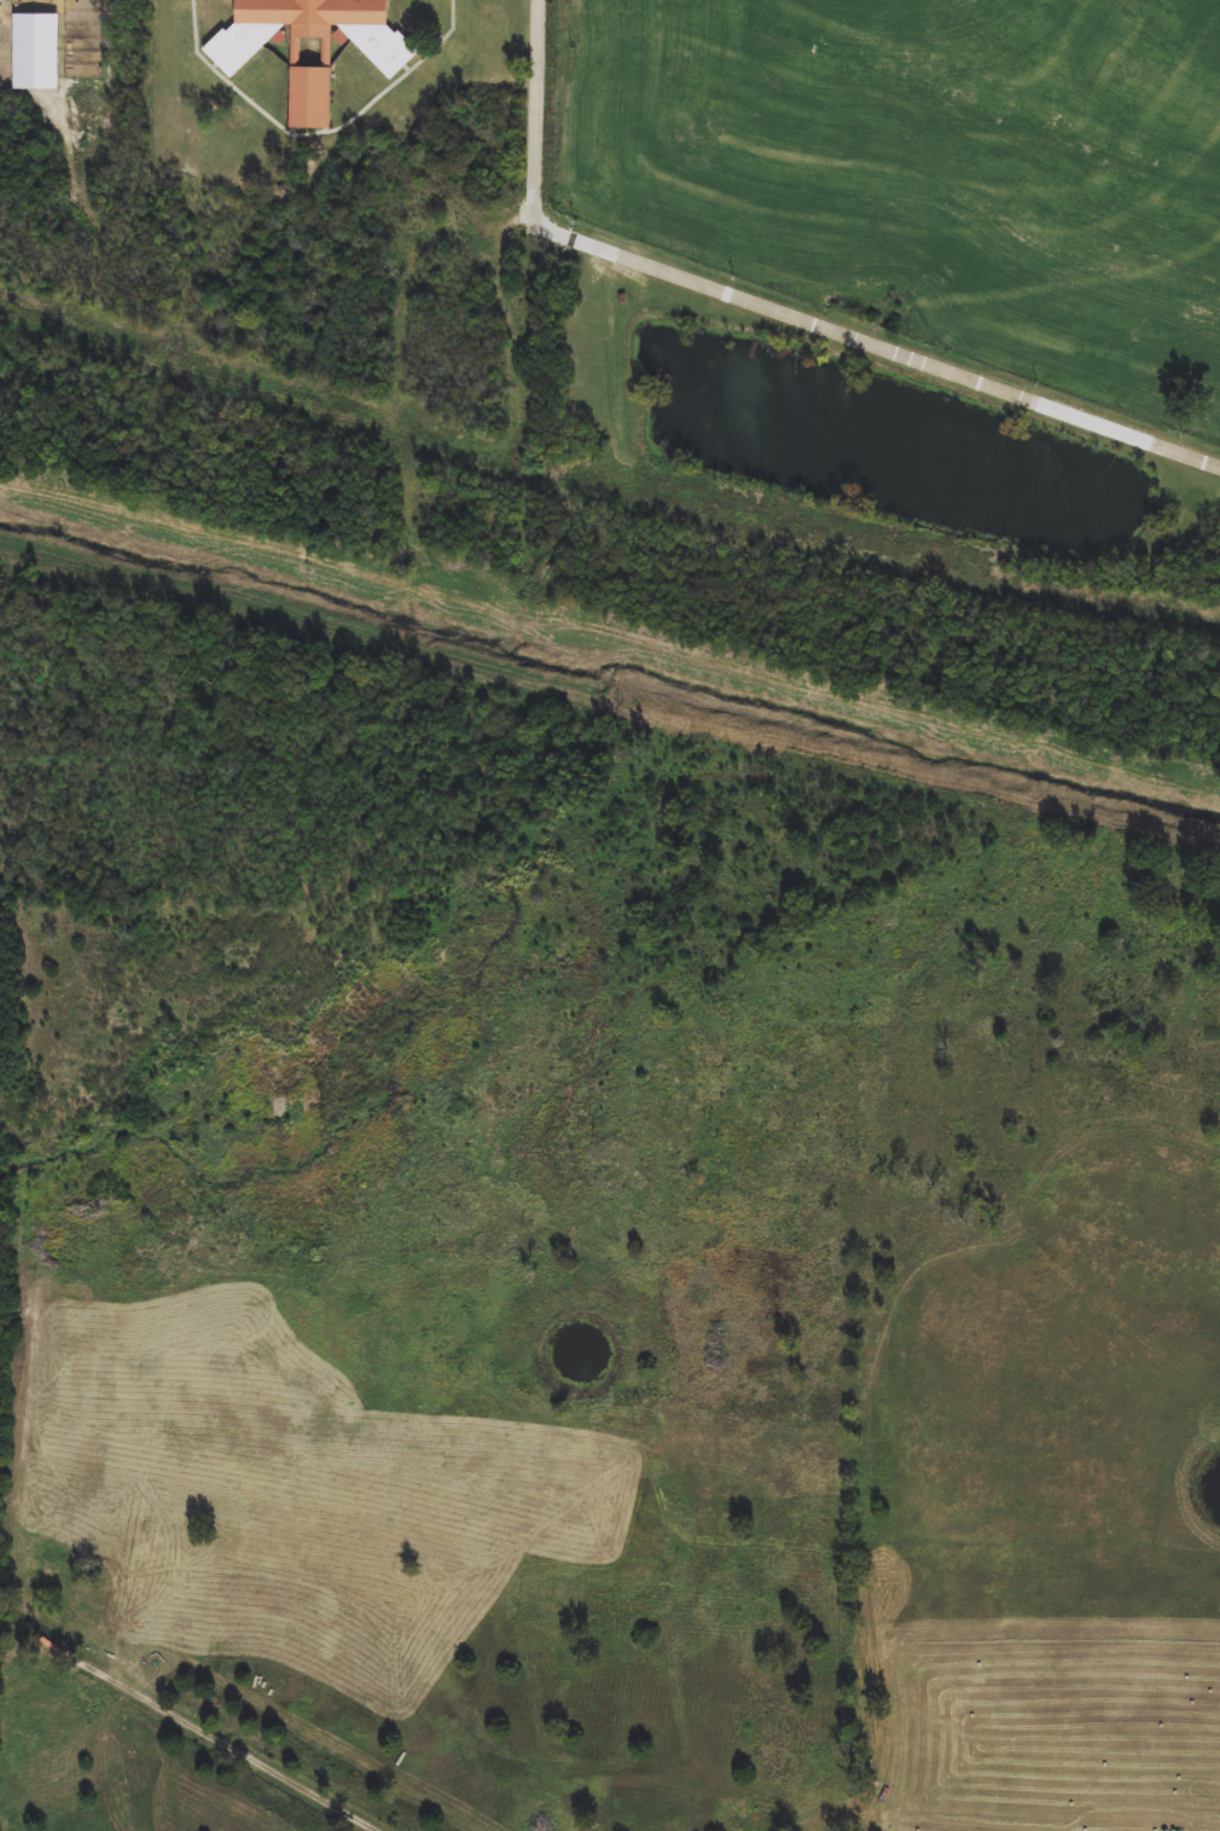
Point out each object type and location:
building: (310, 46)
road: (542, 87)
road: (862, 332)
road: (873, 1432)

